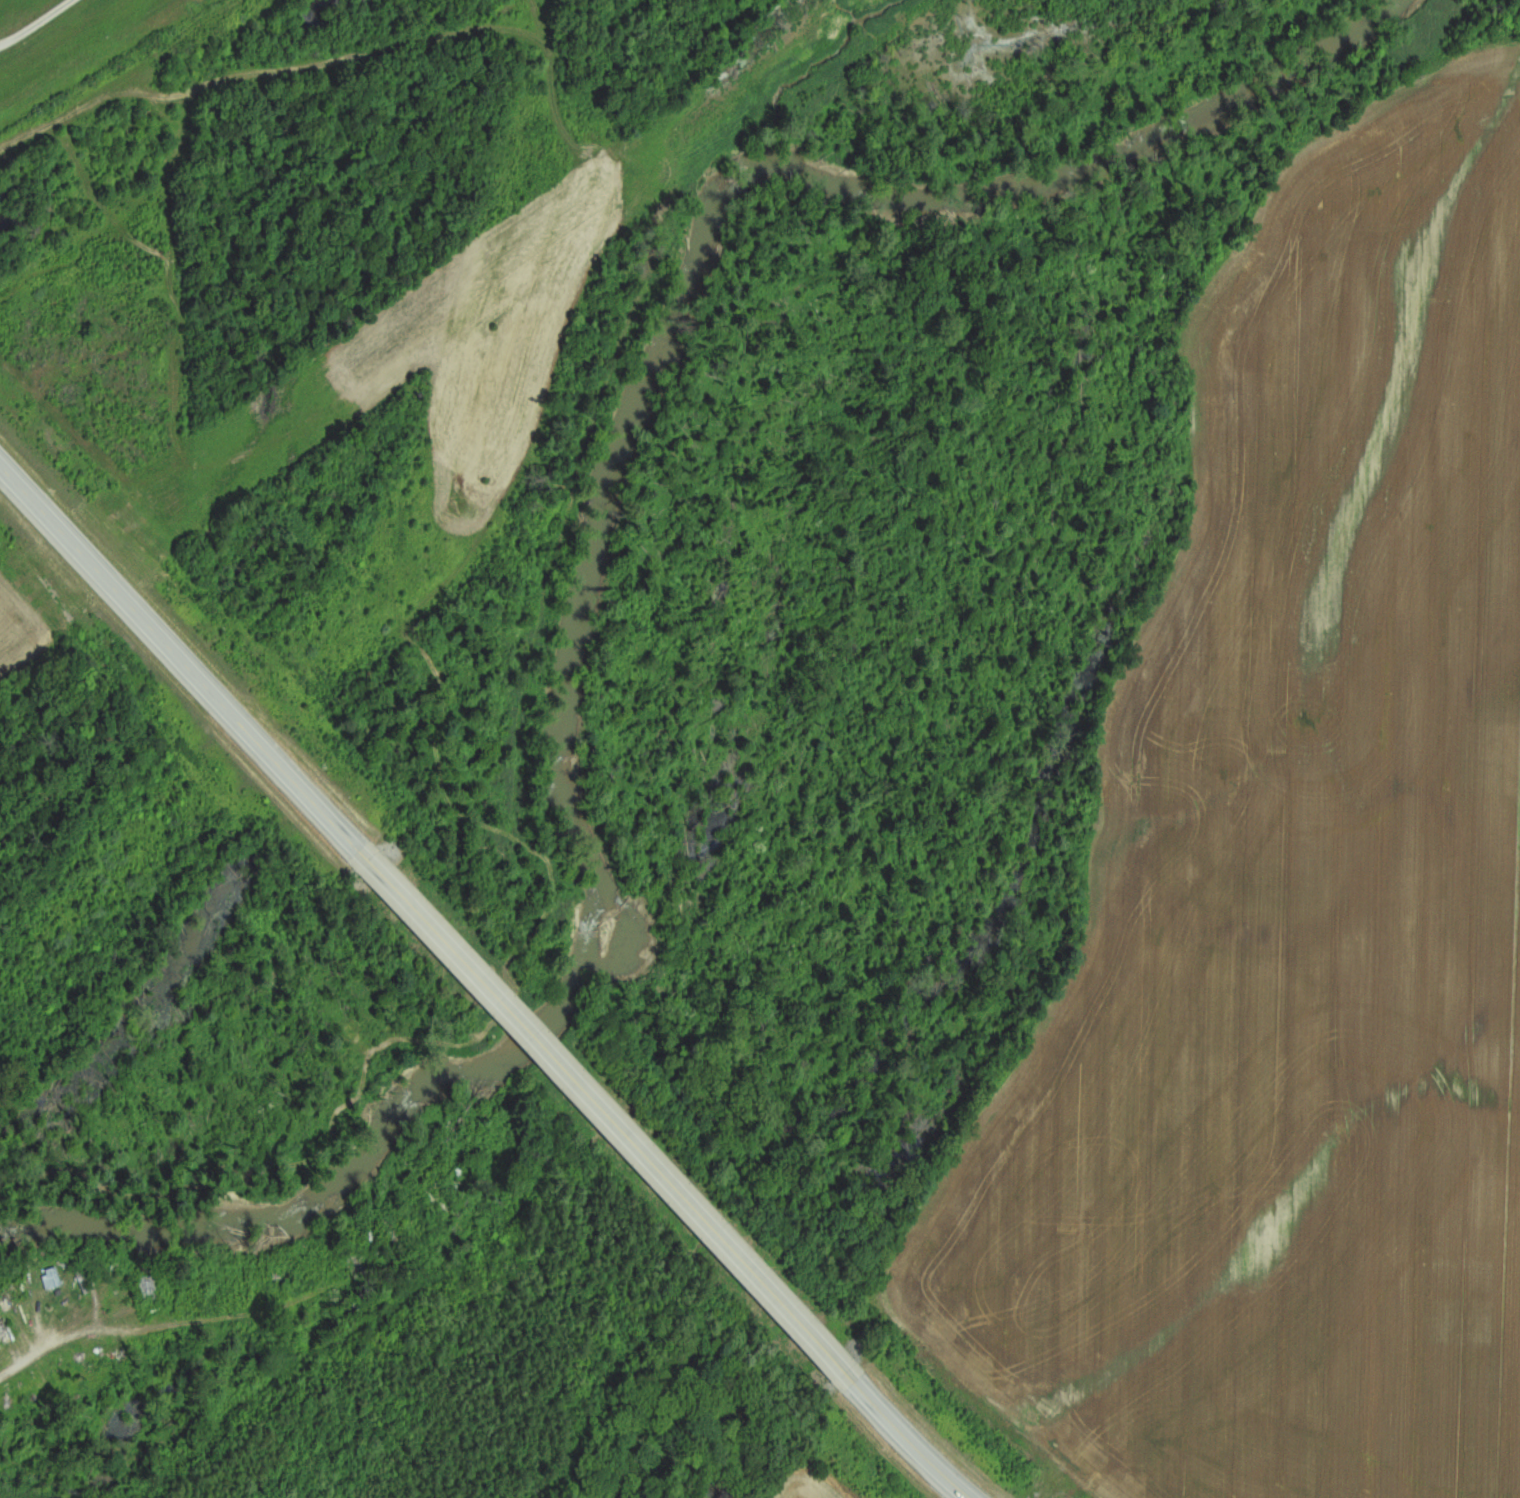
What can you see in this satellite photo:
road: (32, 21)
river: (595, 541)
road: (178, 658)
road: (604, 1116)
road: (202, 1316)
building: (4, 1328)
road: (909, 1441)

